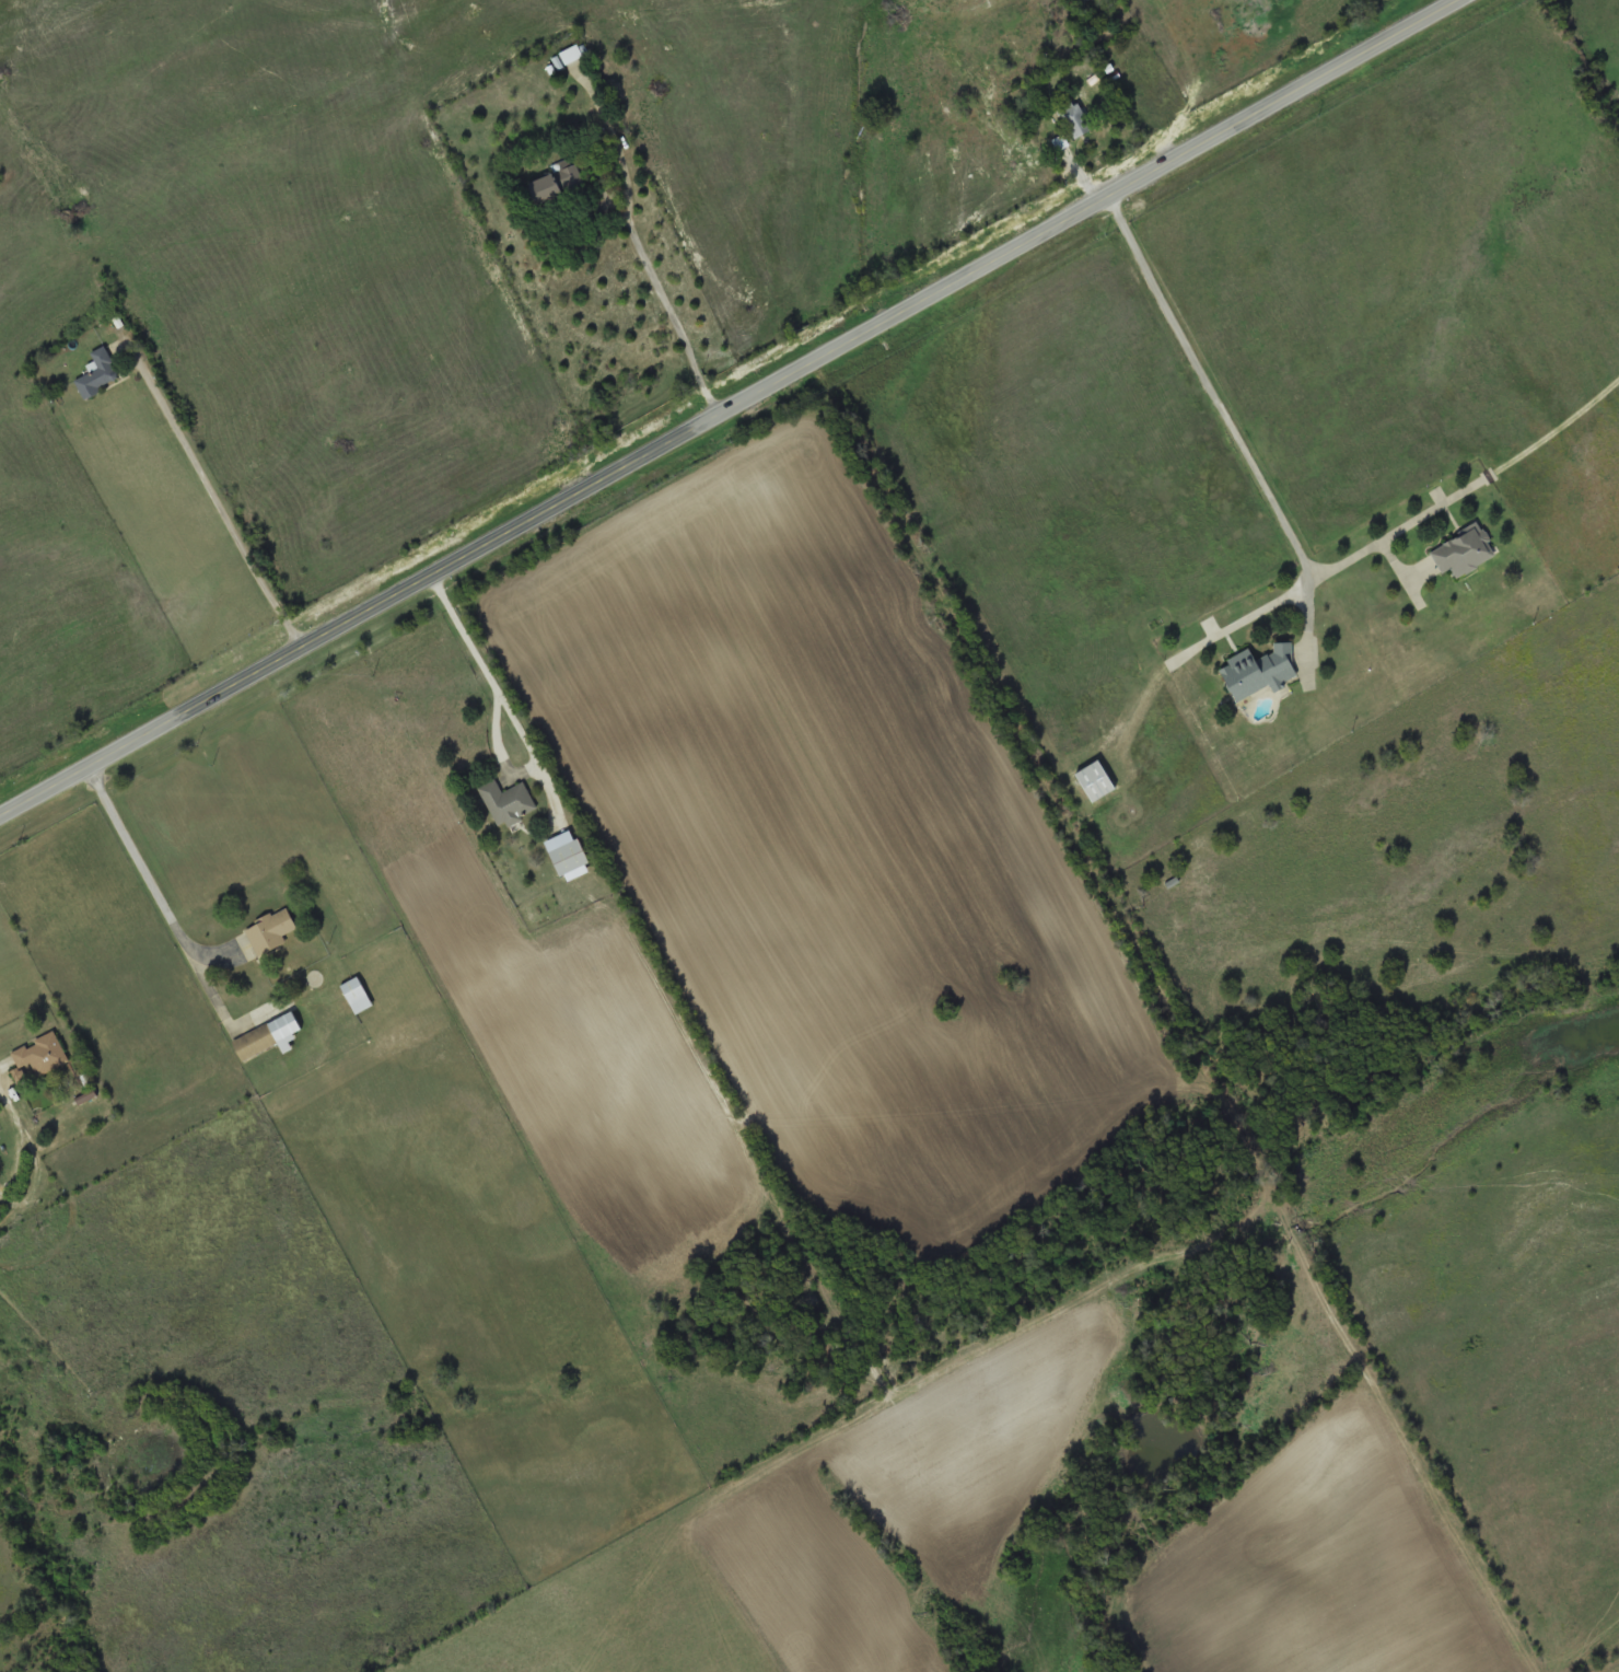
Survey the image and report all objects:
building: (572, 55)
building: (1074, 119)
building: (557, 184)
building: (98, 372)
road: (725, 407)
building: (1465, 551)
building: (1260, 671)
road: (515, 724)
building: (1097, 781)
building: (508, 802)
building: (570, 858)
road: (142, 872)
building: (271, 932)
building: (268, 1037)
building: (42, 1055)

